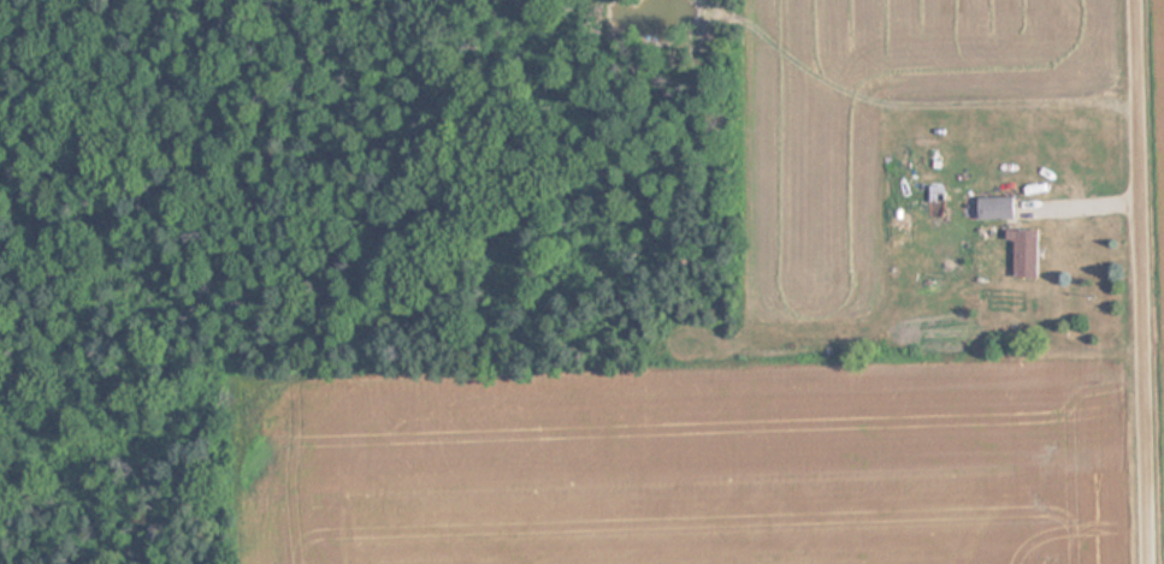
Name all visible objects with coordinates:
building: (997, 207)
building: (1022, 254)
road: (1144, 281)

